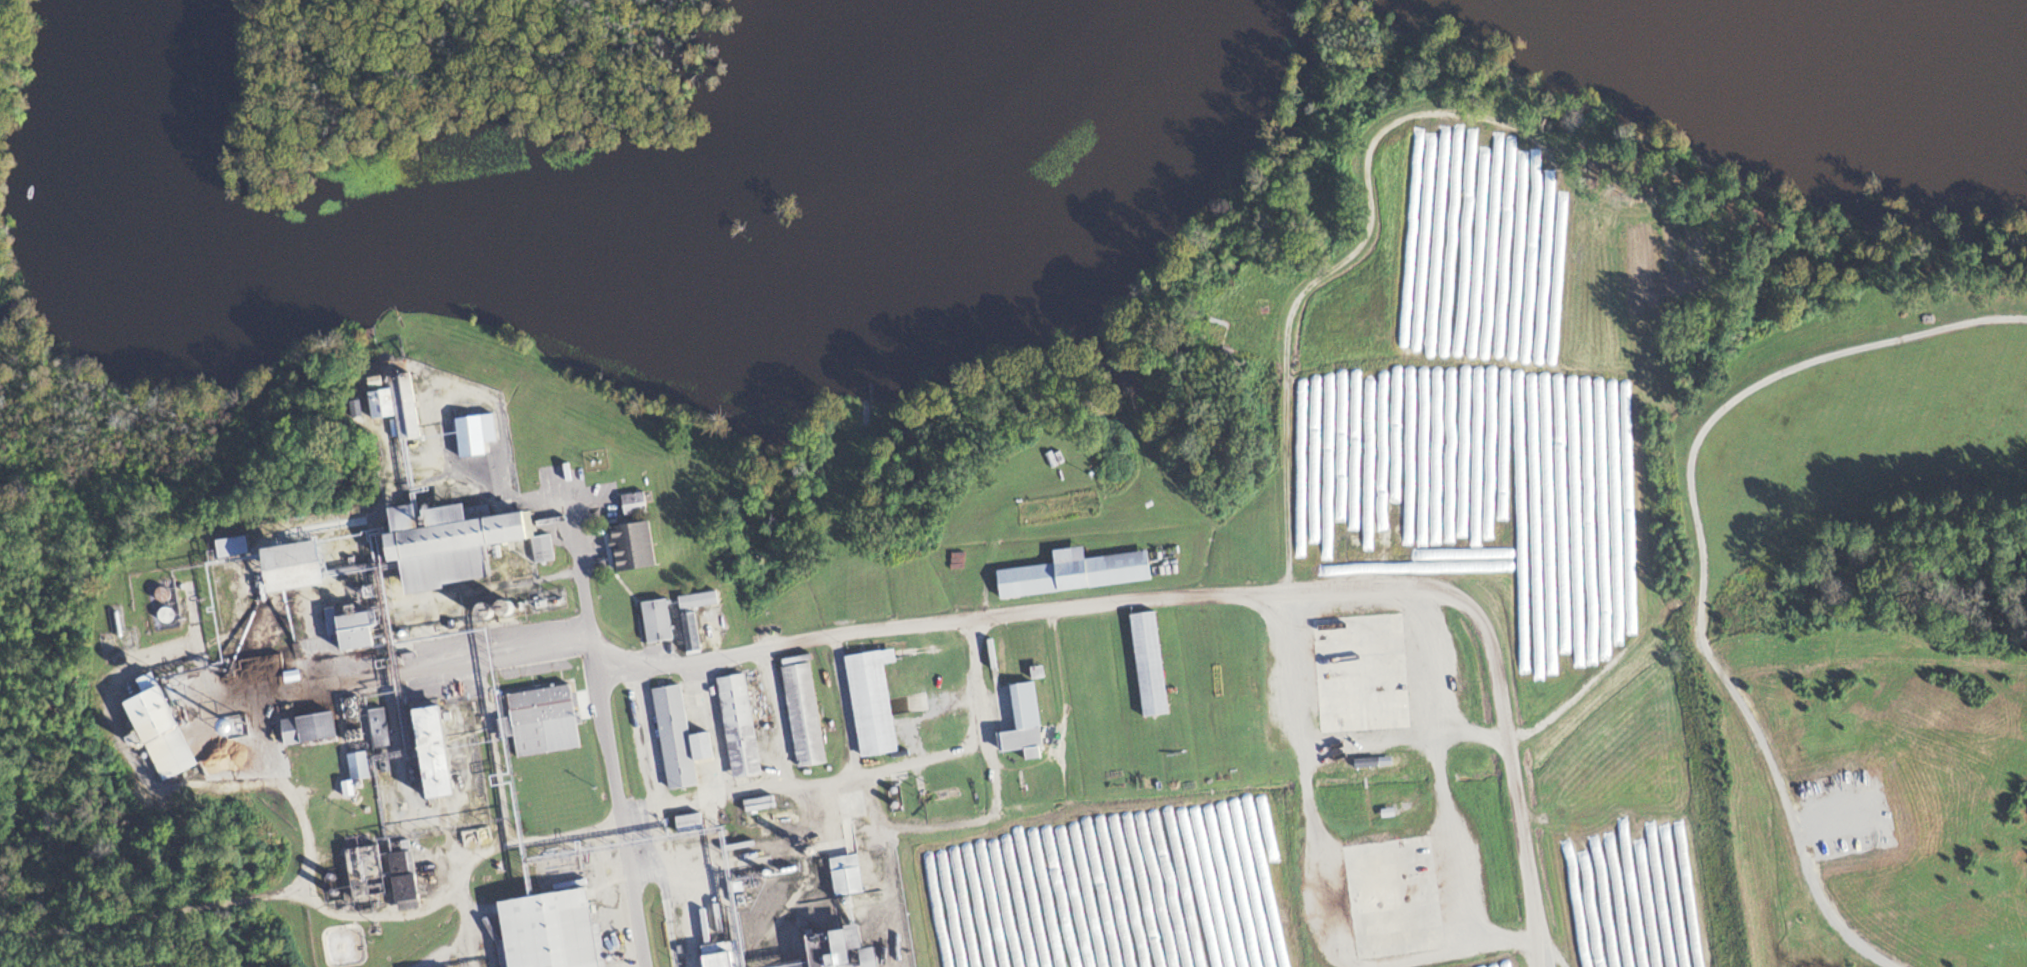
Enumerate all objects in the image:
park: (459, 69)
building: (397, 404)
building: (474, 438)
building: (1026, 468)
building: (633, 502)
building: (1057, 508)
building: (631, 546)
building: (539, 553)
building: (443, 556)
building: (294, 566)
wastewater plant: (285, 567)
building: (1072, 573)
road: (1340, 594)
building: (698, 599)
wastewater plant: (125, 614)
building: (657, 620)
wastewater plant: (202, 626)
building: (352, 626)
building: (690, 630)
building: (1356, 634)
building: (1033, 653)
building: (1146, 668)
building: (1089, 670)
building: (937, 691)
building: (870, 702)
building: (802, 713)
building: (351, 721)
building: (539, 721)
building: (738, 724)
building: (306, 726)
building: (378, 726)
building: (1022, 729)
road: (602, 732)
building: (678, 737)
building: (431, 760)
building: (357, 764)
road: (801, 781)
building: (684, 821)
road: (1000, 856)
building: (365, 871)
building: (401, 872)
building: (547, 931)
building: (822, 947)
building: (718, 954)
building: (863, 956)

